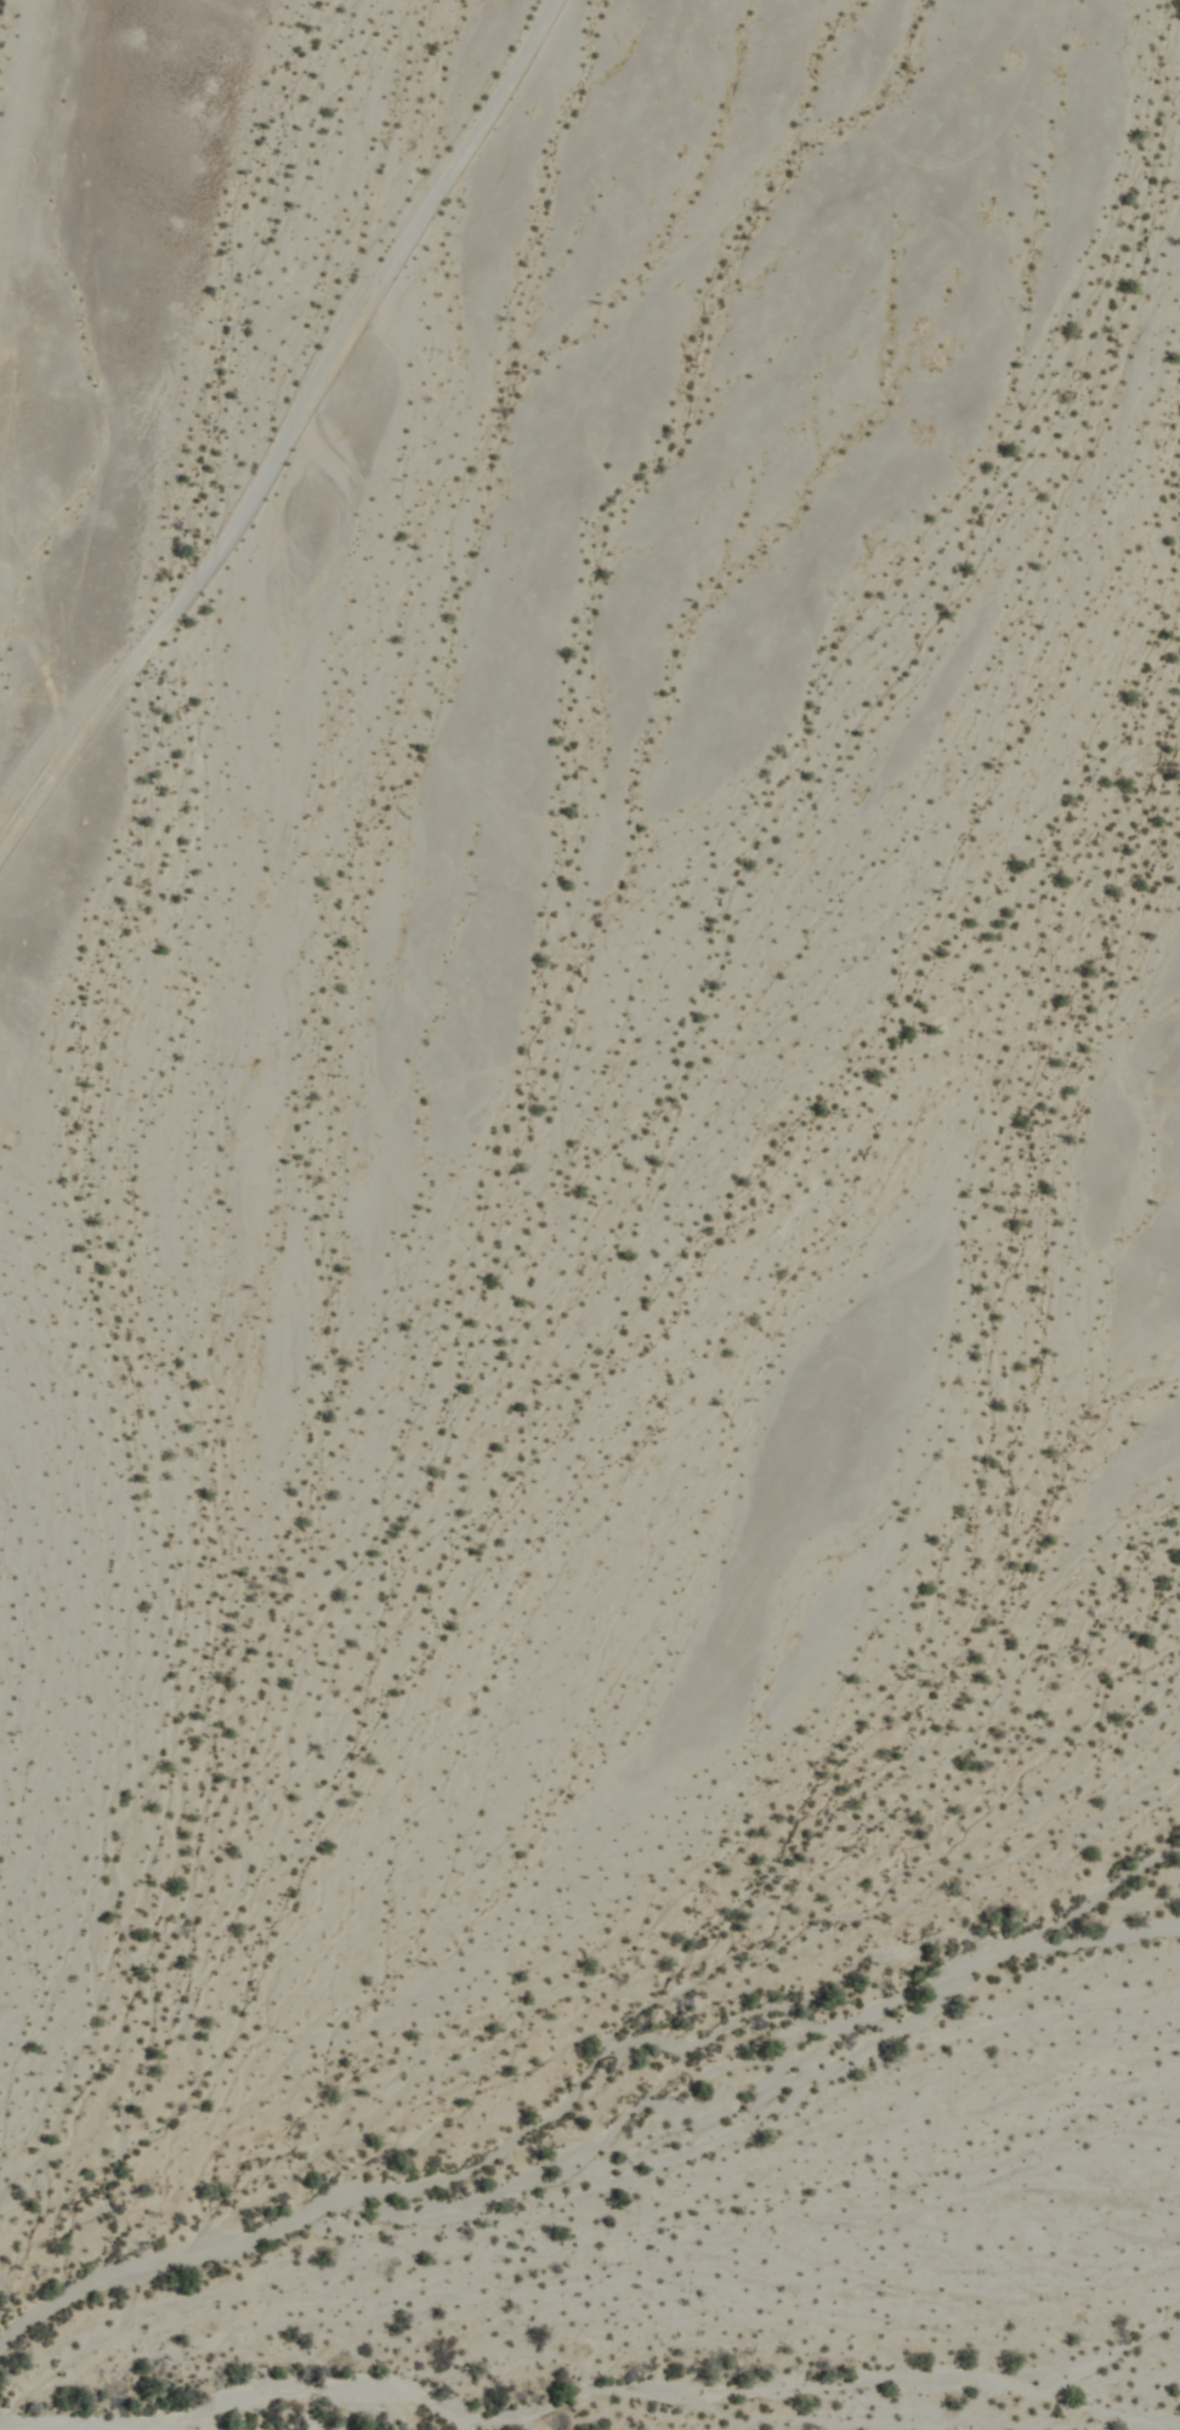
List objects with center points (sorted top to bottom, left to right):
road: (259, 388)

